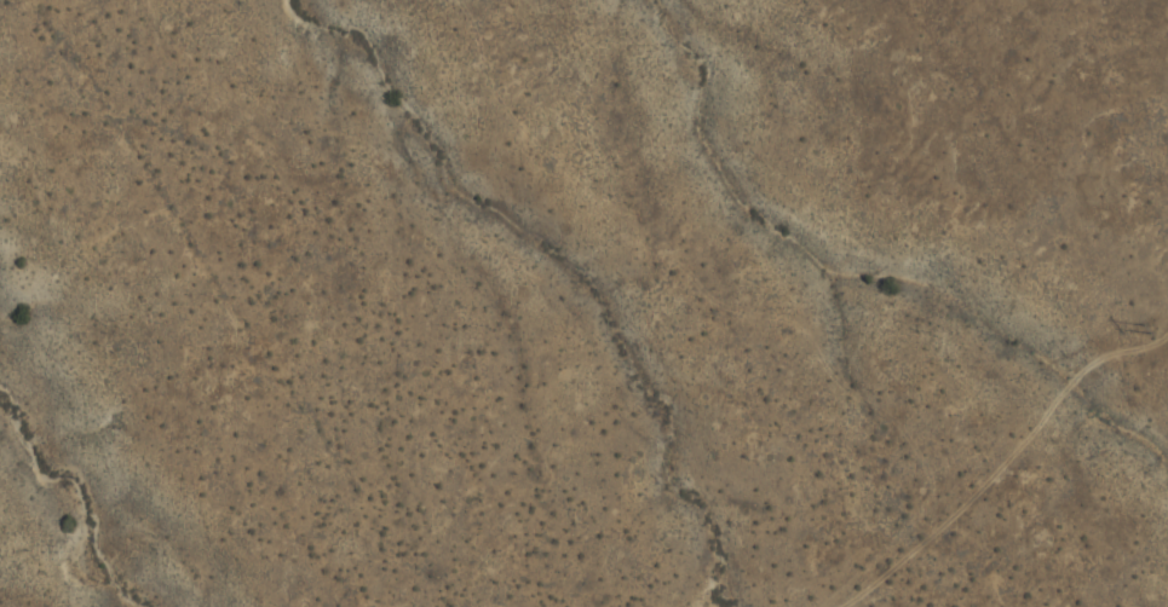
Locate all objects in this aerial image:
power tower: (1156, 333)

